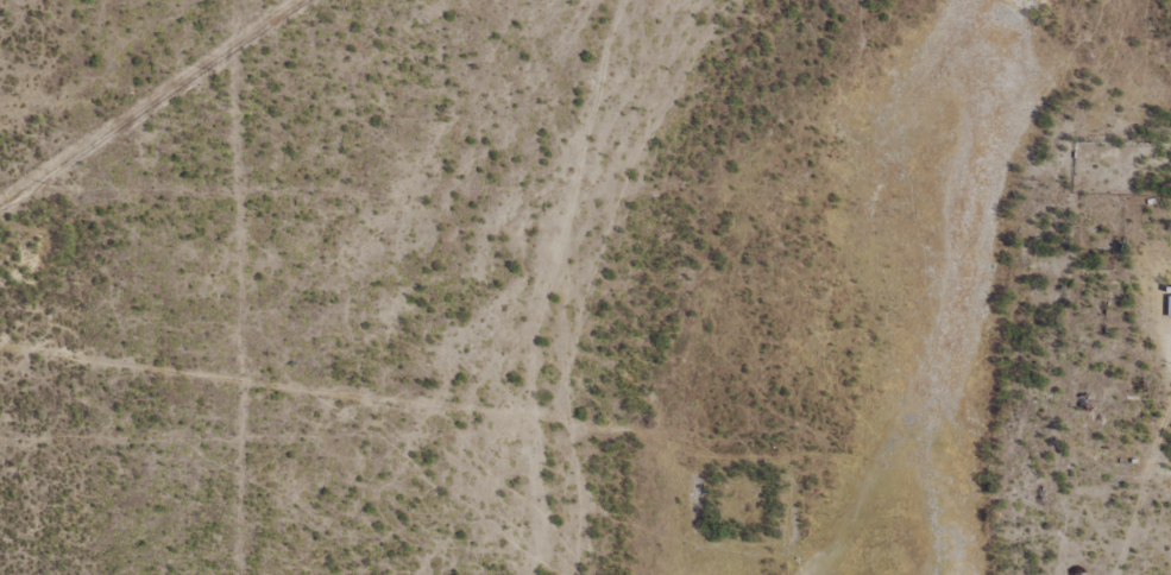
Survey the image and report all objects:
road: (511, 204)
road: (509, 417)
road: (1118, 491)

